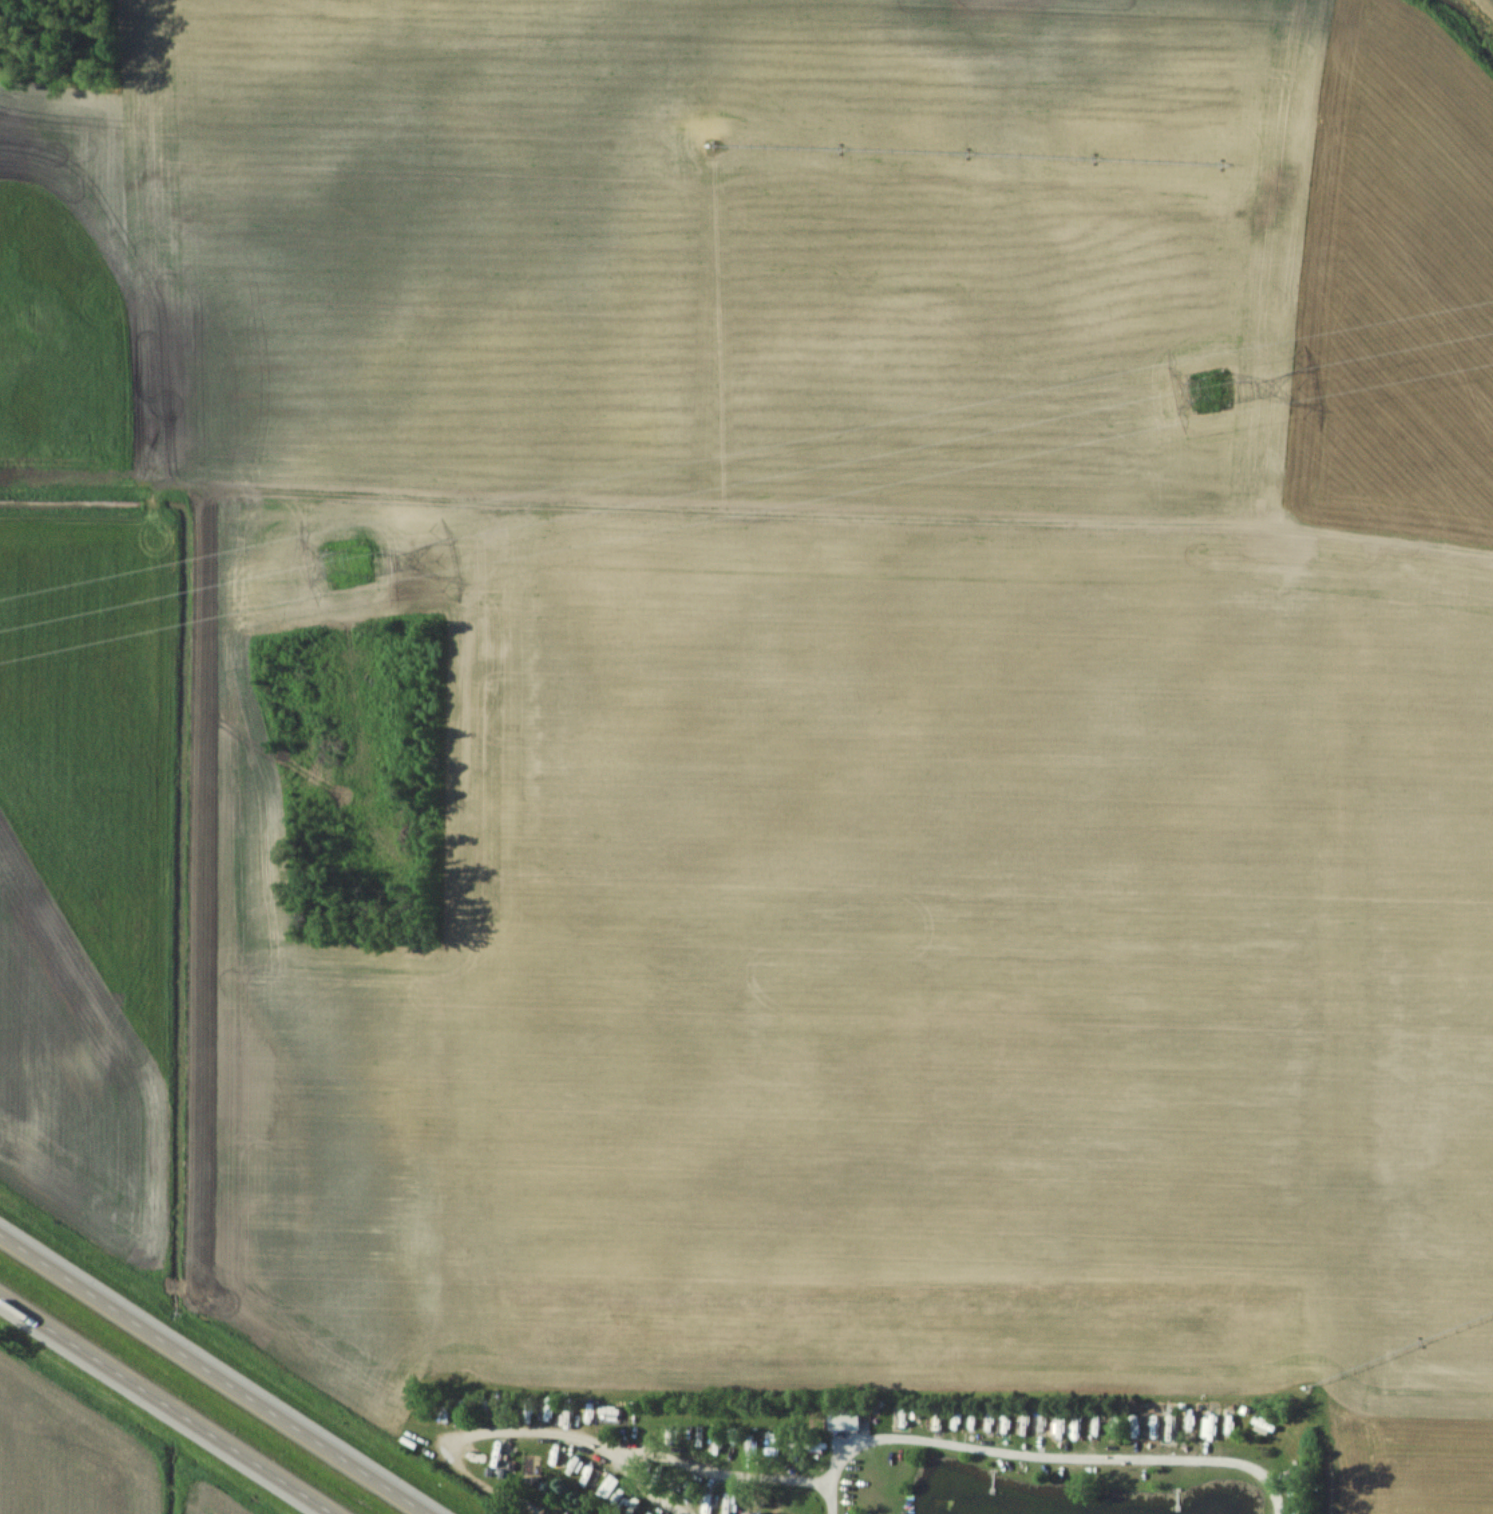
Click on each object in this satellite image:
power tower: (1192, 375)
power tower: (343, 541)
road: (213, 1375)
road: (166, 1405)
building: (1208, 1425)
road: (640, 1449)
road: (1034, 1459)
road: (645, 1485)
building: (746, 1513)

